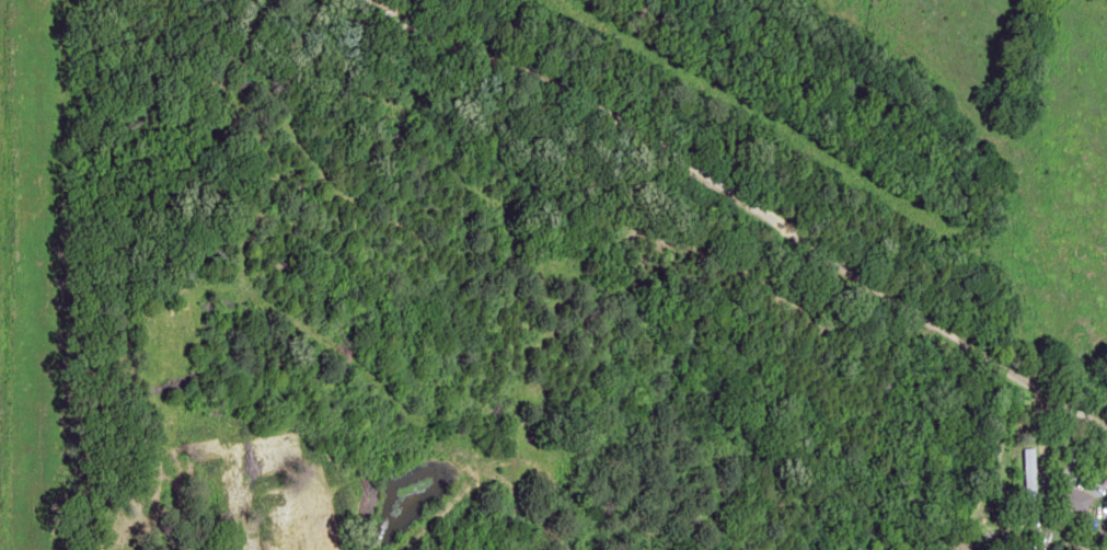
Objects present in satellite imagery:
road: (1020, 186)
road: (738, 208)
building: (1029, 473)
building: (1105, 482)
building: (1074, 497)

